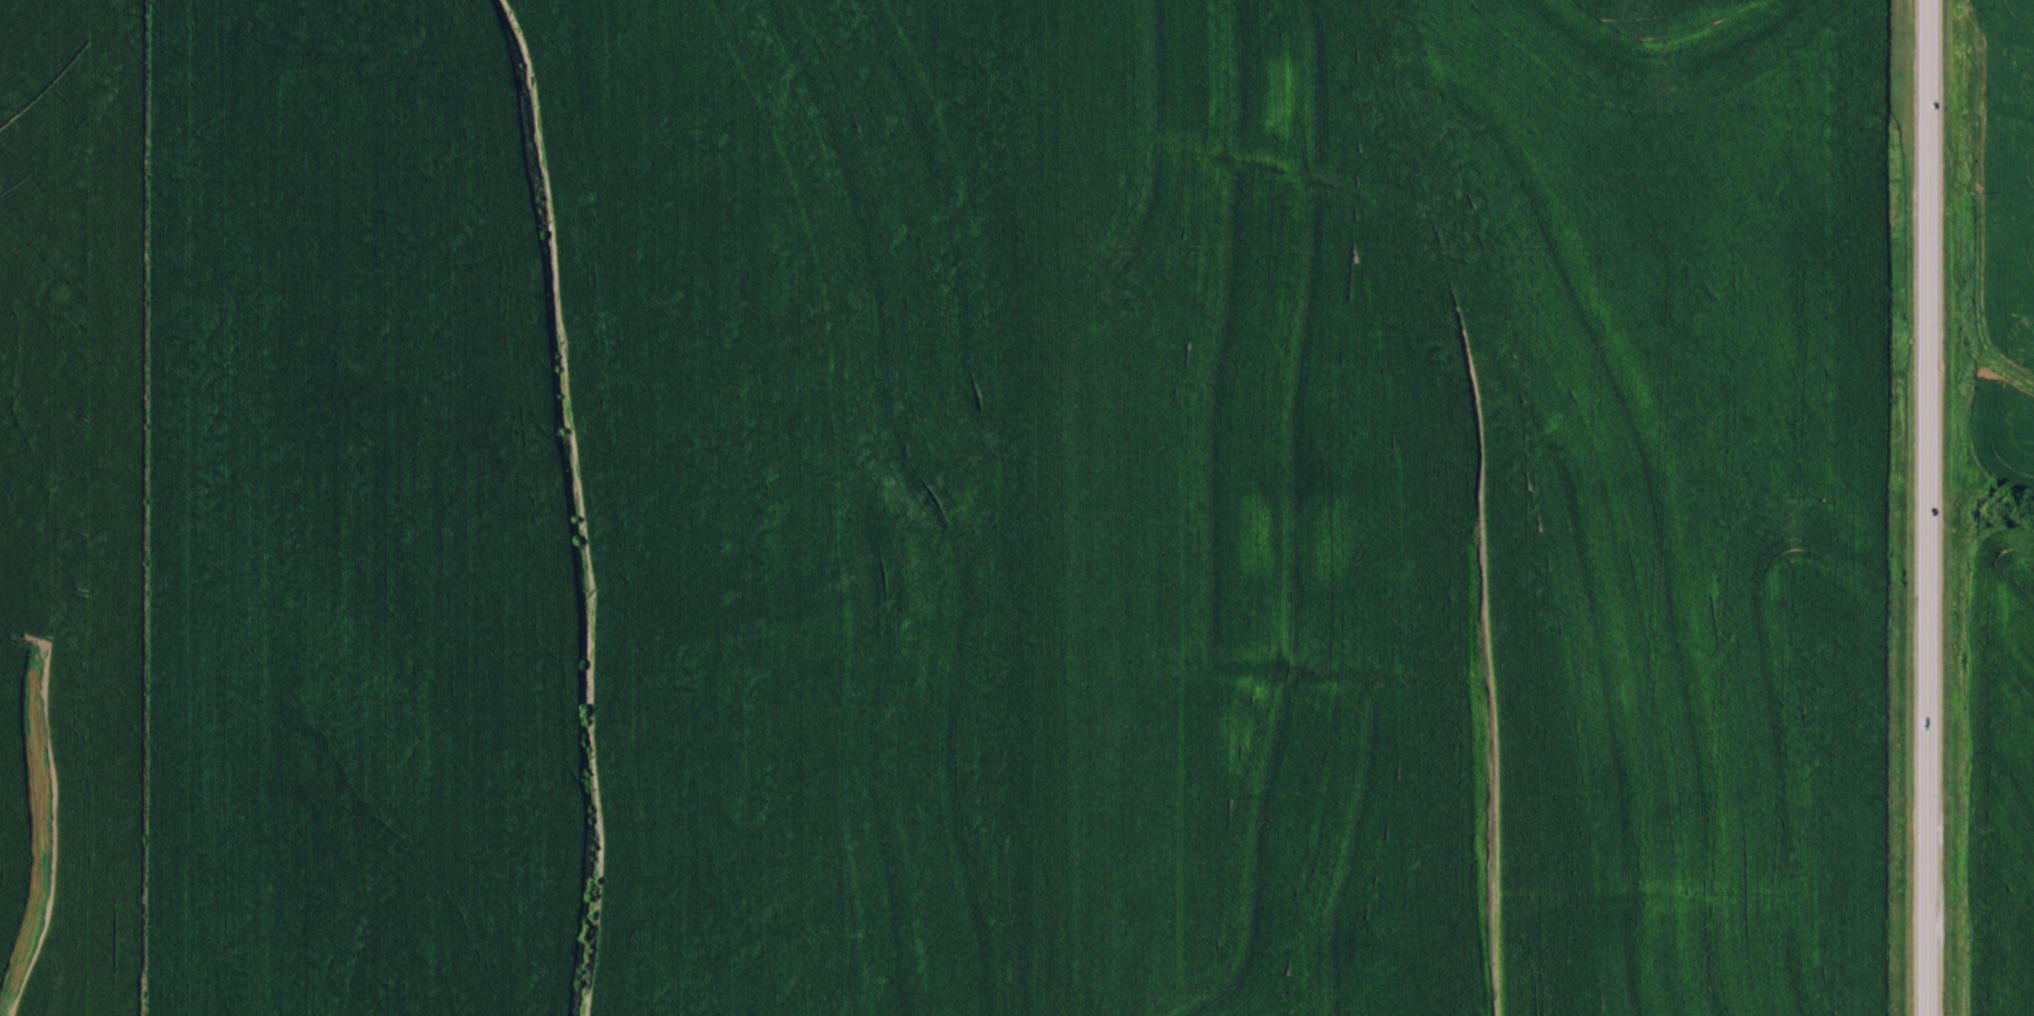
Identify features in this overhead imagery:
road: (1927, 507)

